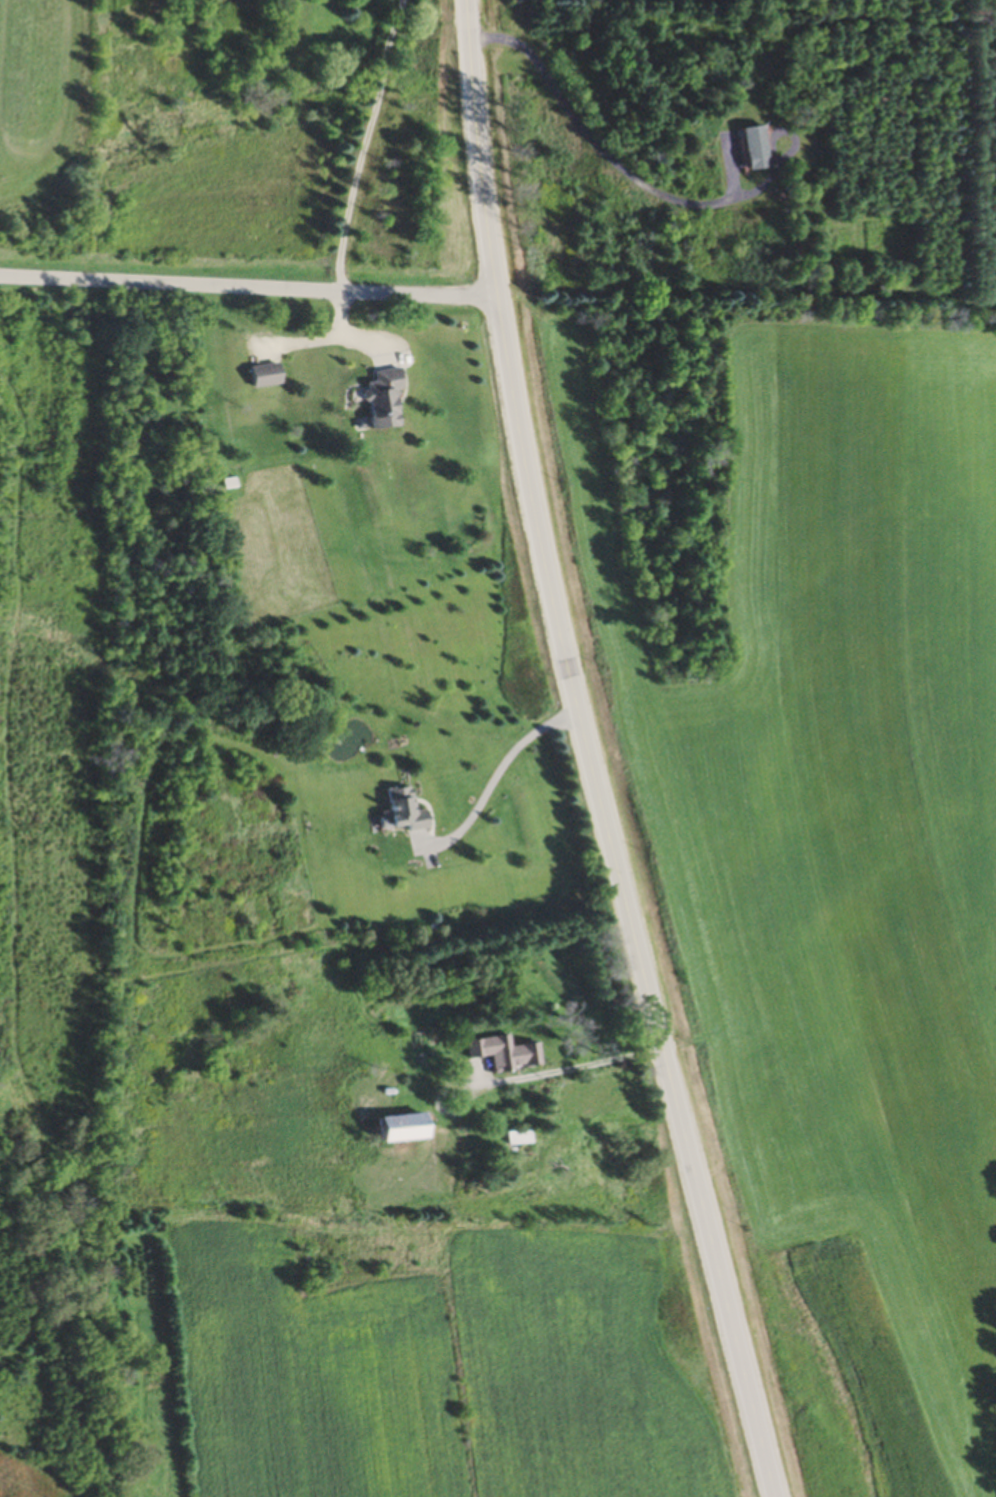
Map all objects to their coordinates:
road: (362, 145)
building: (752, 149)
road: (607, 156)
road: (249, 291)
building: (261, 376)
building: (380, 398)
road: (590, 754)
road: (498, 773)
building: (400, 812)
building: (507, 1056)
road: (576, 1065)
building: (395, 1129)
building: (518, 1139)

